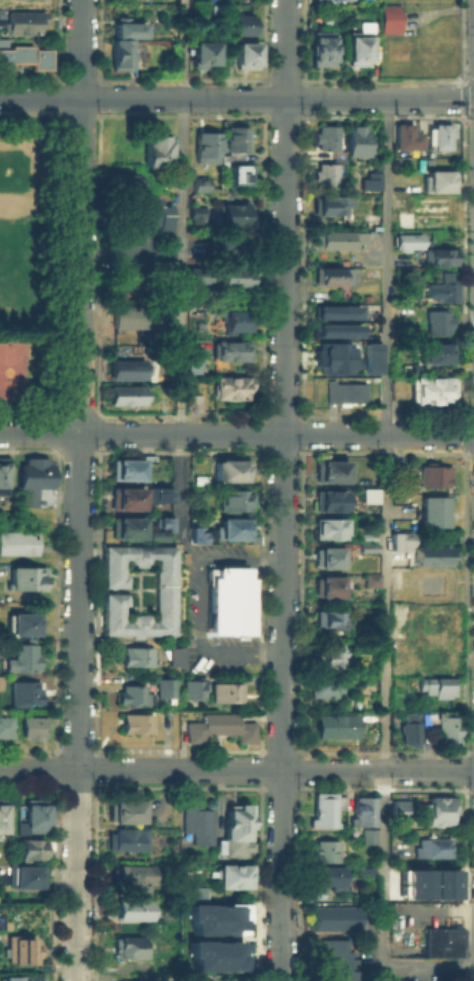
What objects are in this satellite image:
building: (212, 9)
building: (0, 15)
building: (389, 18)
building: (21, 21)
building: (243, 24)
building: (127, 30)
road: (461, 40)
building: (360, 44)
road: (81, 48)
building: (322, 48)
building: (202, 53)
building: (117, 54)
building: (244, 55)
building: (24, 56)
road: (470, 79)
road: (464, 80)
road: (462, 82)
road: (40, 96)
road: (462, 97)
road: (277, 98)
road: (462, 115)
road: (470, 115)
building: (439, 136)
building: (326, 137)
building: (404, 137)
building: (234, 139)
building: (356, 141)
building: (202, 147)
building: (154, 150)
building: (235, 173)
building: (325, 175)
building: (438, 180)
building: (122, 183)
building: (162, 184)
building: (197, 186)
building: (329, 205)
building: (424, 208)
building: (151, 212)
building: (194, 212)
building: (228, 215)
road: (182, 217)
park: (19, 231)
building: (336, 239)
building: (406, 240)
building: (139, 247)
building: (228, 249)
road: (124, 256)
building: (440, 256)
park: (28, 264)
road: (80, 265)
building: (195, 275)
building: (331, 275)
building: (234, 277)
building: (441, 289)
building: (336, 311)
building: (133, 318)
building: (436, 321)
building: (233, 322)
building: (336, 329)
road: (40, 331)
building: (229, 350)
building: (432, 353)
building: (330, 357)
building: (370, 357)
building: (193, 366)
park: (12, 370)
building: (124, 370)
building: (229, 388)
building: (430, 389)
building: (342, 393)
building: (124, 396)
building: (191, 403)
road: (471, 415)
road: (463, 416)
road: (39, 433)
road: (276, 434)
road: (463, 435)
road: (472, 452)
road: (464, 453)
building: (396, 461)
building: (123, 466)
building: (200, 466)
building: (227, 468)
building: (328, 469)
building: (432, 474)
building: (2, 475)
building: (33, 481)
road: (284, 490)
building: (160, 492)
building: (367, 495)
building: (123, 496)
building: (231, 497)
building: (330, 499)
building: (432, 510)
building: (163, 521)
building: (229, 526)
building: (122, 527)
building: (327, 527)
building: (152, 533)
building: (199, 533)
building: (368, 536)
road: (184, 541)
building: (17, 543)
building: (369, 547)
building: (327, 555)
building: (429, 555)
building: (369, 574)
road: (385, 575)
building: (24, 578)
building: (326, 584)
building: (428, 584)
building: (159, 587)
building: (225, 598)
building: (432, 613)
building: (332, 619)
building: (22, 621)
building: (432, 630)
parking lot: (425, 637)
road: (201, 642)
building: (429, 648)
building: (327, 653)
building: (132, 654)
building: (27, 655)
building: (430, 655)
building: (172, 656)
building: (429, 665)
building: (0, 682)
building: (324, 686)
building: (436, 686)
building: (166, 687)
building: (192, 688)
building: (224, 690)
building: (22, 691)
building: (128, 692)
road: (78, 707)
building: (426, 718)
building: (132, 722)
building: (335, 725)
building: (5, 726)
building: (218, 726)
building: (32, 727)
building: (408, 728)
building: (446, 728)
road: (236, 768)
building: (340, 800)
building: (438, 807)
building: (125, 808)
building: (322, 808)
building: (400, 809)
building: (362, 811)
building: (2, 816)
building: (33, 817)
building: (196, 822)
building: (232, 830)
building: (369, 835)
building: (126, 838)
building: (432, 846)
building: (30, 847)
building: (325, 849)
building: (365, 871)
building: (127, 872)
building: (233, 874)
building: (24, 876)
building: (328, 876)
building: (415, 879)
building: (442, 879)
building: (195, 891)
building: (131, 909)
building: (336, 917)
building: (214, 919)
building: (442, 941)
building: (126, 945)
building: (22, 949)
building: (214, 955)
building: (330, 959)
building: (20, 977)

